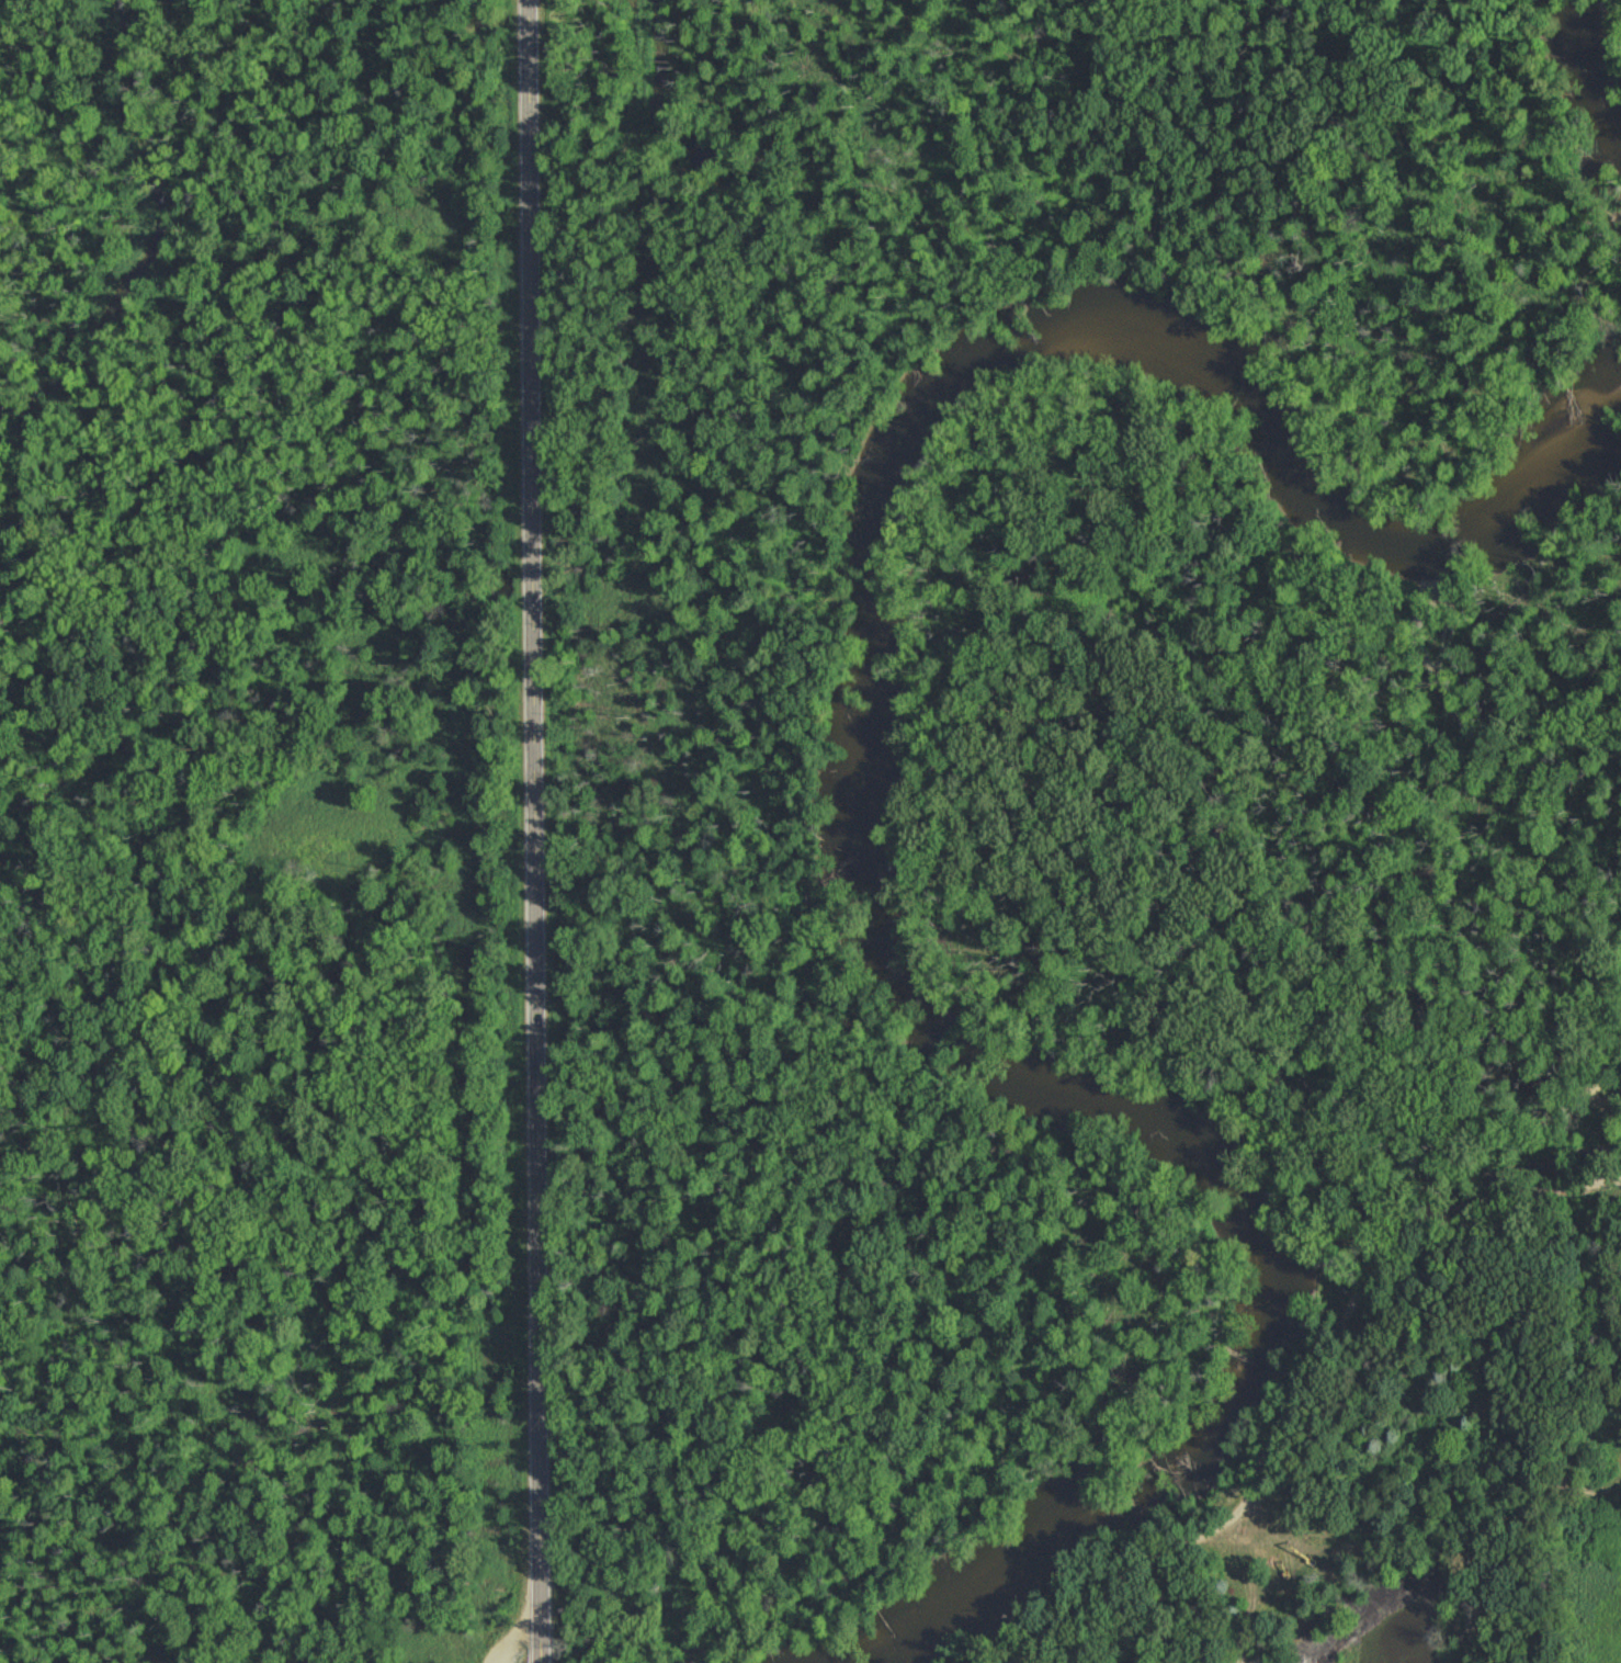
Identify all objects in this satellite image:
river: (1578, 69)
road: (517, 831)
river: (875, 845)
road: (1178, 1606)

